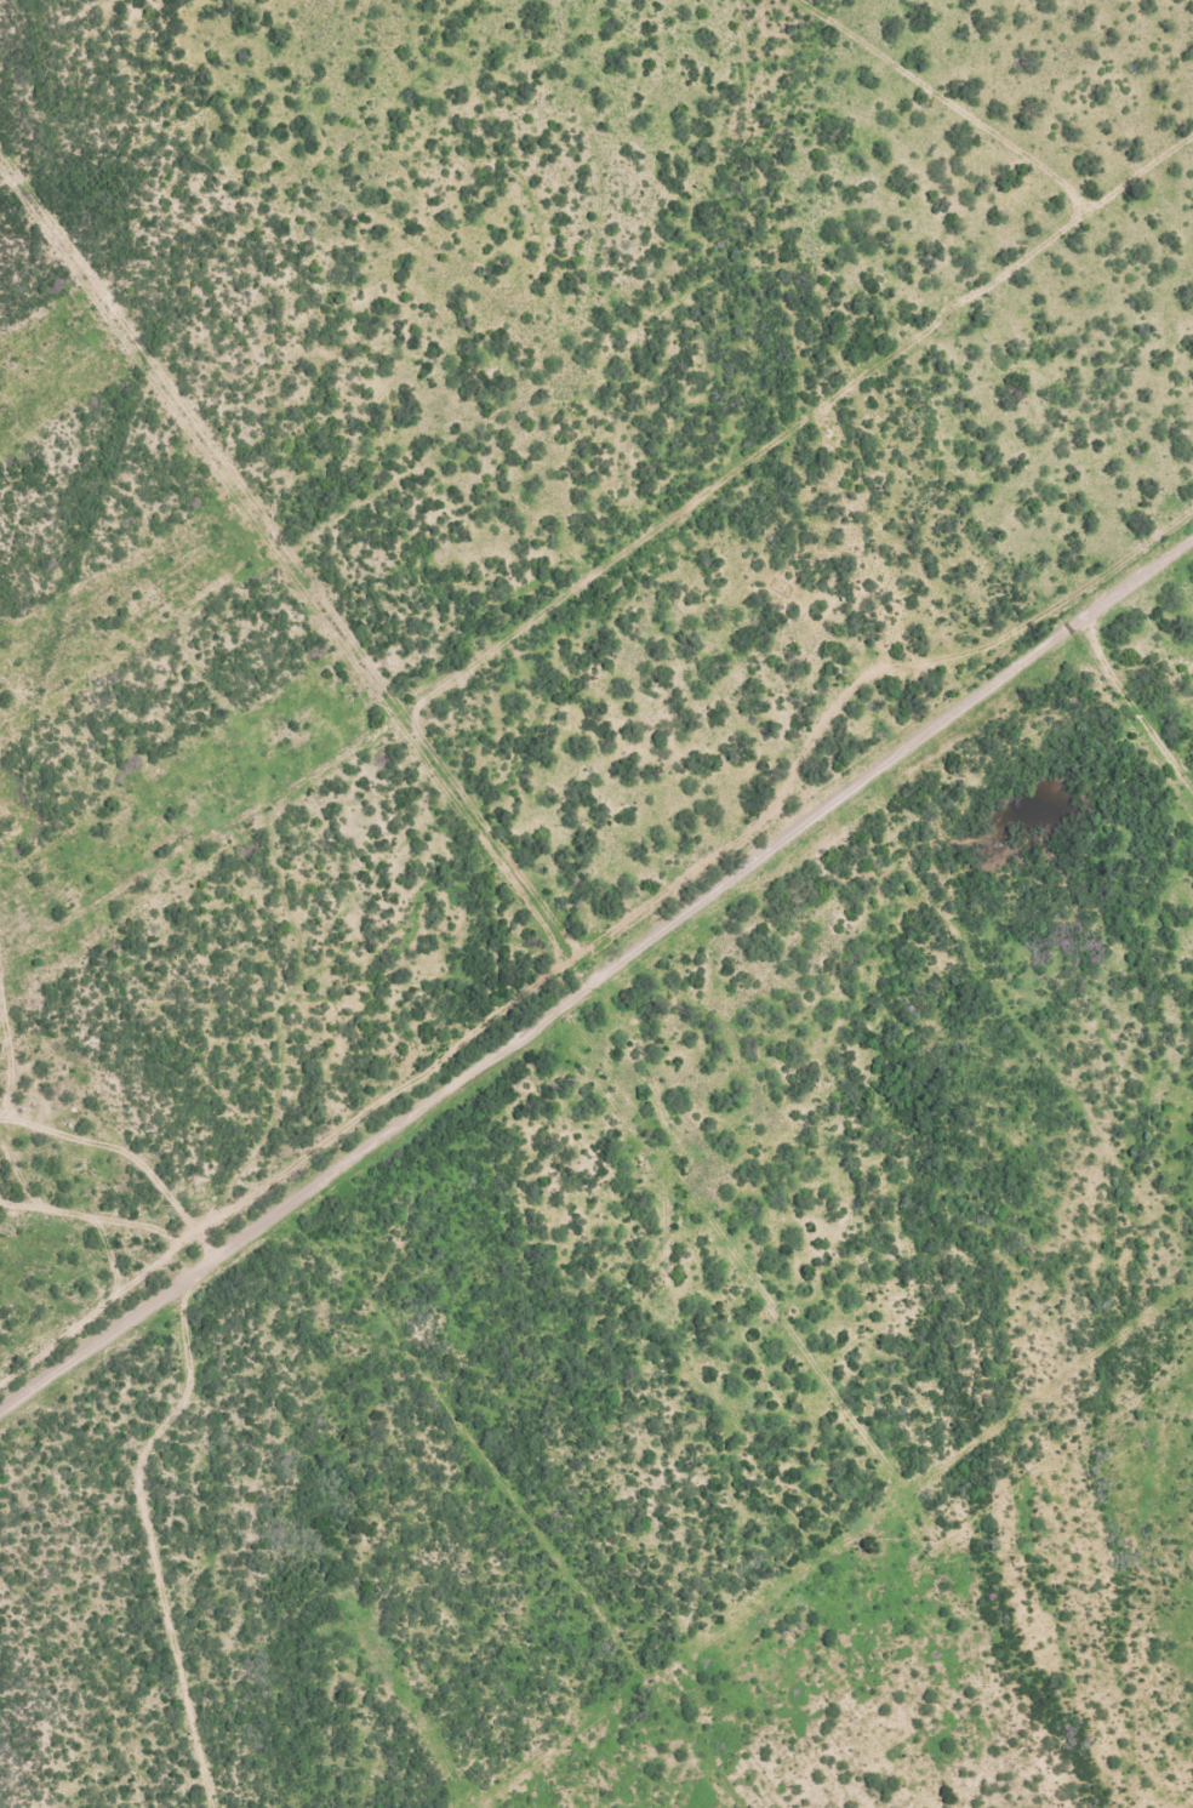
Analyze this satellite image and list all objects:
road: (264, 666)
road: (583, 1050)
road: (247, 1523)

